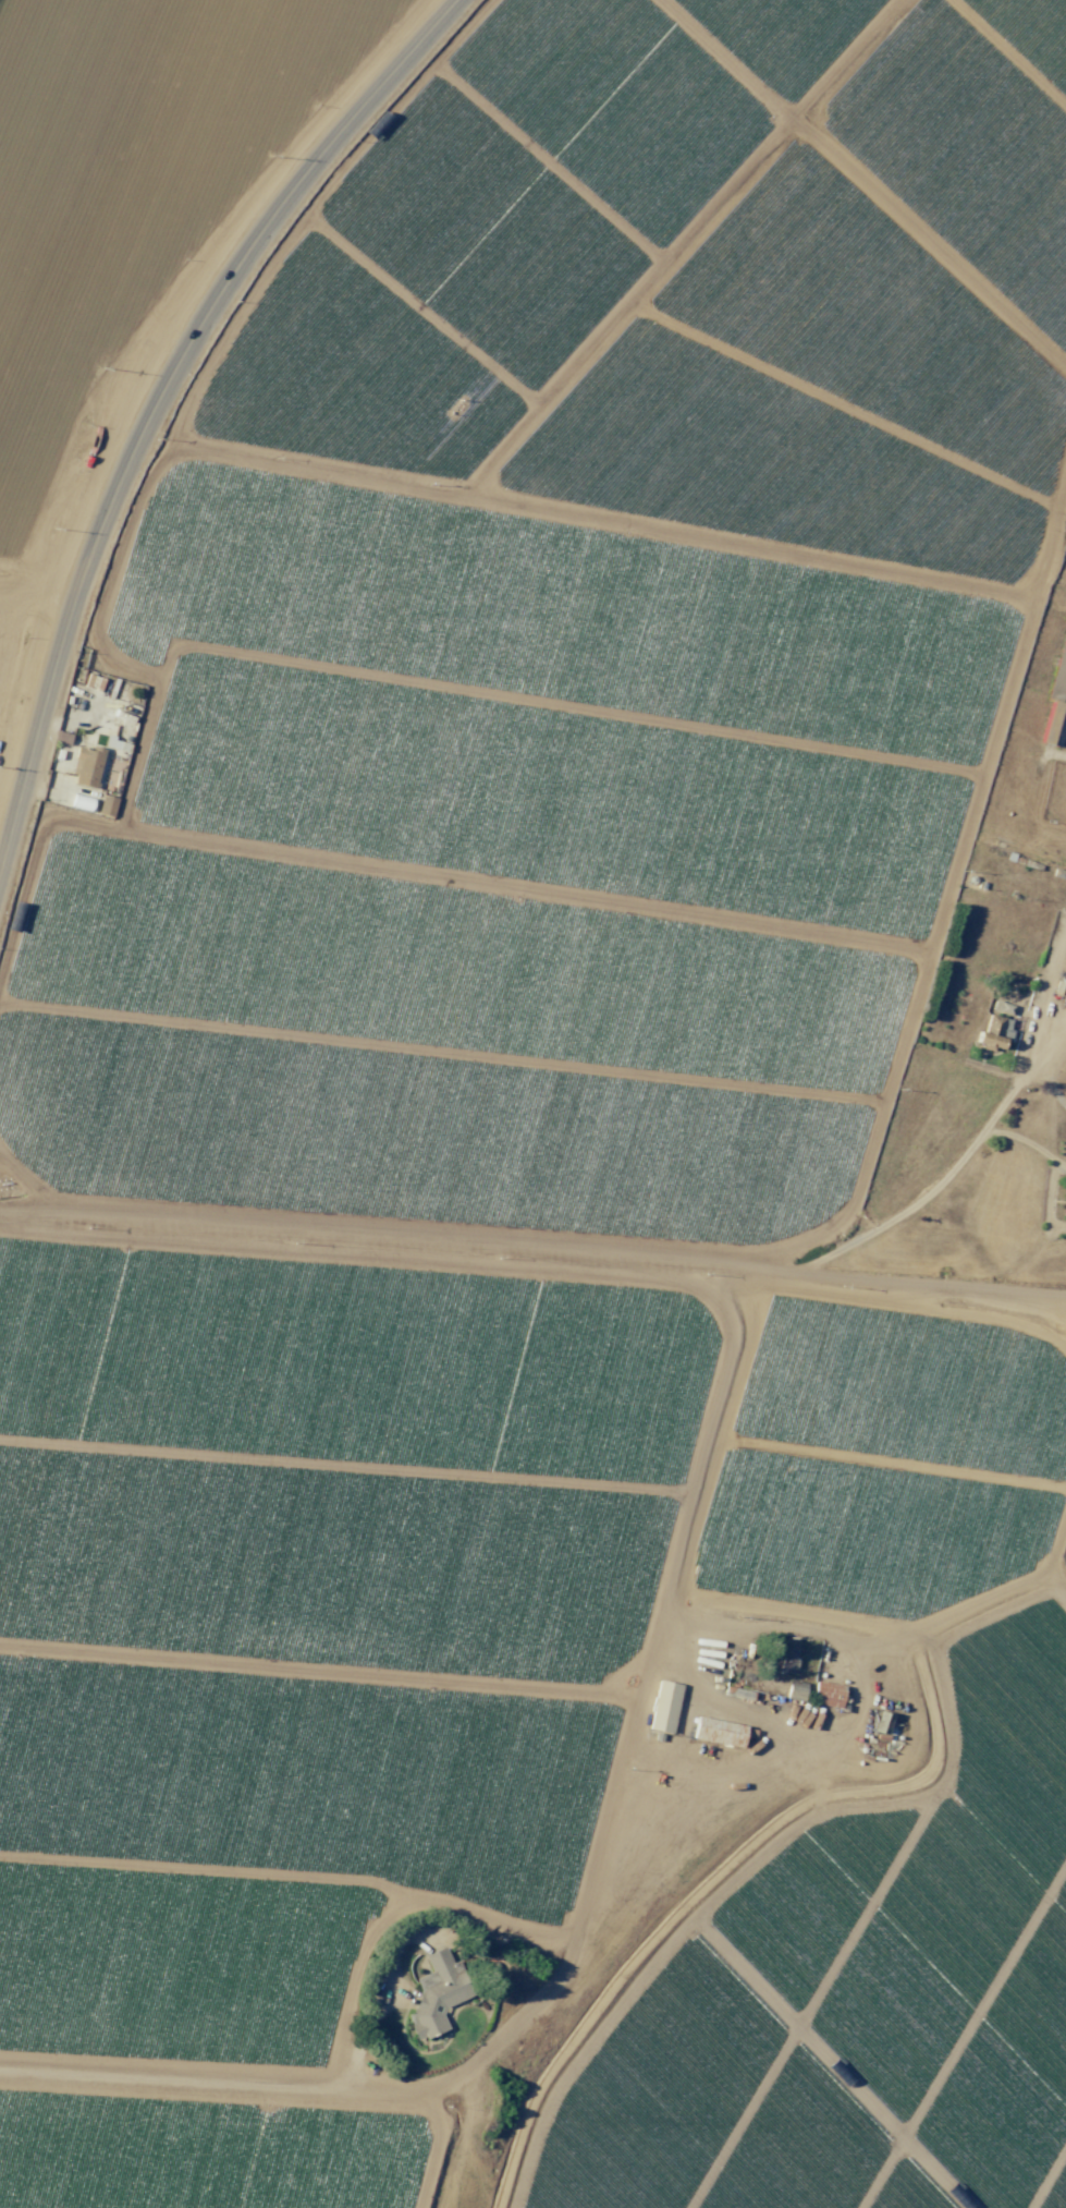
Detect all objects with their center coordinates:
crop: (114, 209)
road: (159, 392)
building: (1061, 662)
building: (1052, 724)
building: (62, 737)
building: (87, 766)
building: (107, 805)
building: (1065, 911)
building: (1002, 1007)
building: (993, 1032)
crop: (501, 1039)
building: (1065, 1199)
road: (585, 1254)
building: (784, 1660)
building: (794, 1690)
building: (826, 1694)
building: (663, 1707)
road: (738, 1710)
building: (881, 1722)
building: (718, 1732)
crop: (855, 1989)
building: (437, 1992)

